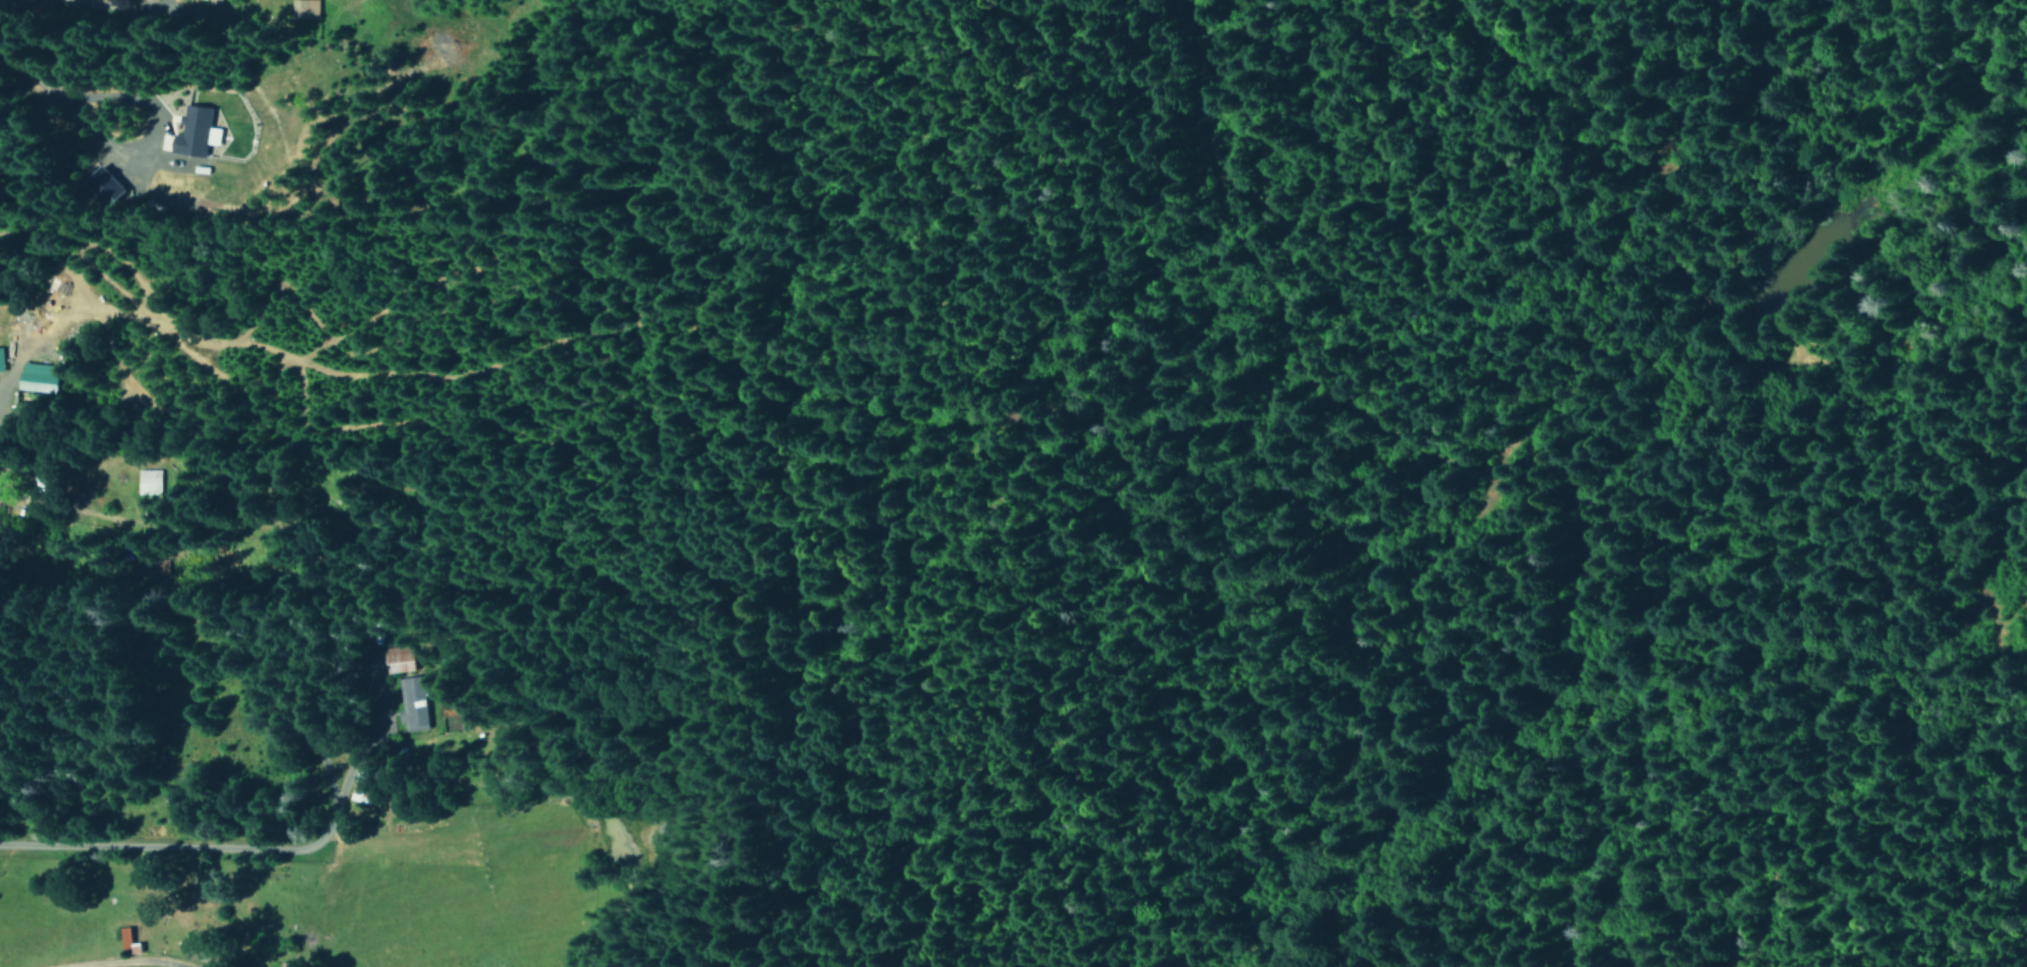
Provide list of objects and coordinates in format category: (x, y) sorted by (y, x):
building: (217, 3)
building: (307, 8)
road: (44, 13)
building: (198, 131)
building: (110, 183)
building: (2, 359)
building: (42, 377)
building: (50, 474)
building: (150, 481)
building: (0, 516)
road: (1365, 563)
building: (397, 654)
building: (398, 666)
building: (412, 702)
building: (365, 783)
building: (130, 940)
road: (129, 962)

